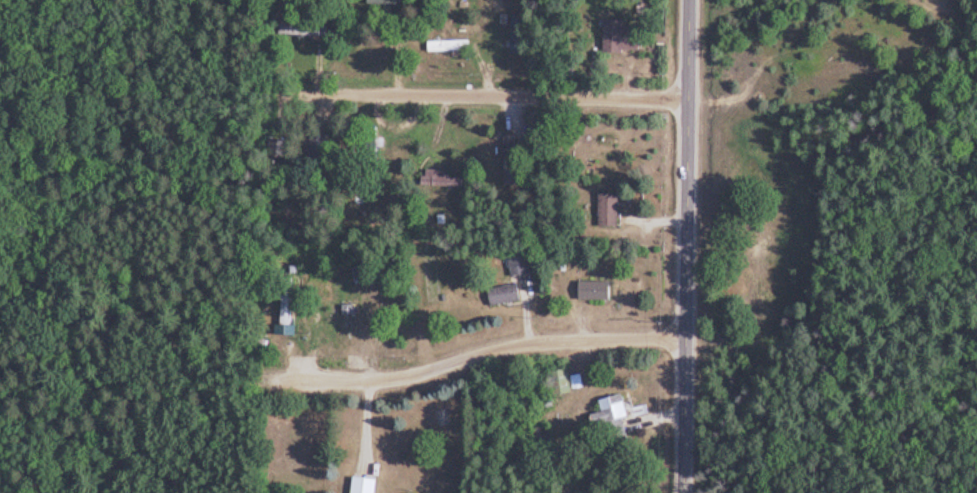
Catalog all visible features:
building: (386, 2)
building: (306, 31)
building: (519, 34)
building: (624, 37)
building: (451, 46)
building: (381, 50)
road: (491, 99)
building: (379, 144)
building: (511, 159)
building: (278, 160)
building: (321, 164)
building: (610, 210)
building: (765, 243)
road: (687, 246)
building: (521, 264)
building: (597, 292)
building: (506, 296)
road: (517, 317)
road: (470, 359)
building: (563, 383)
building: (615, 416)
building: (366, 485)

